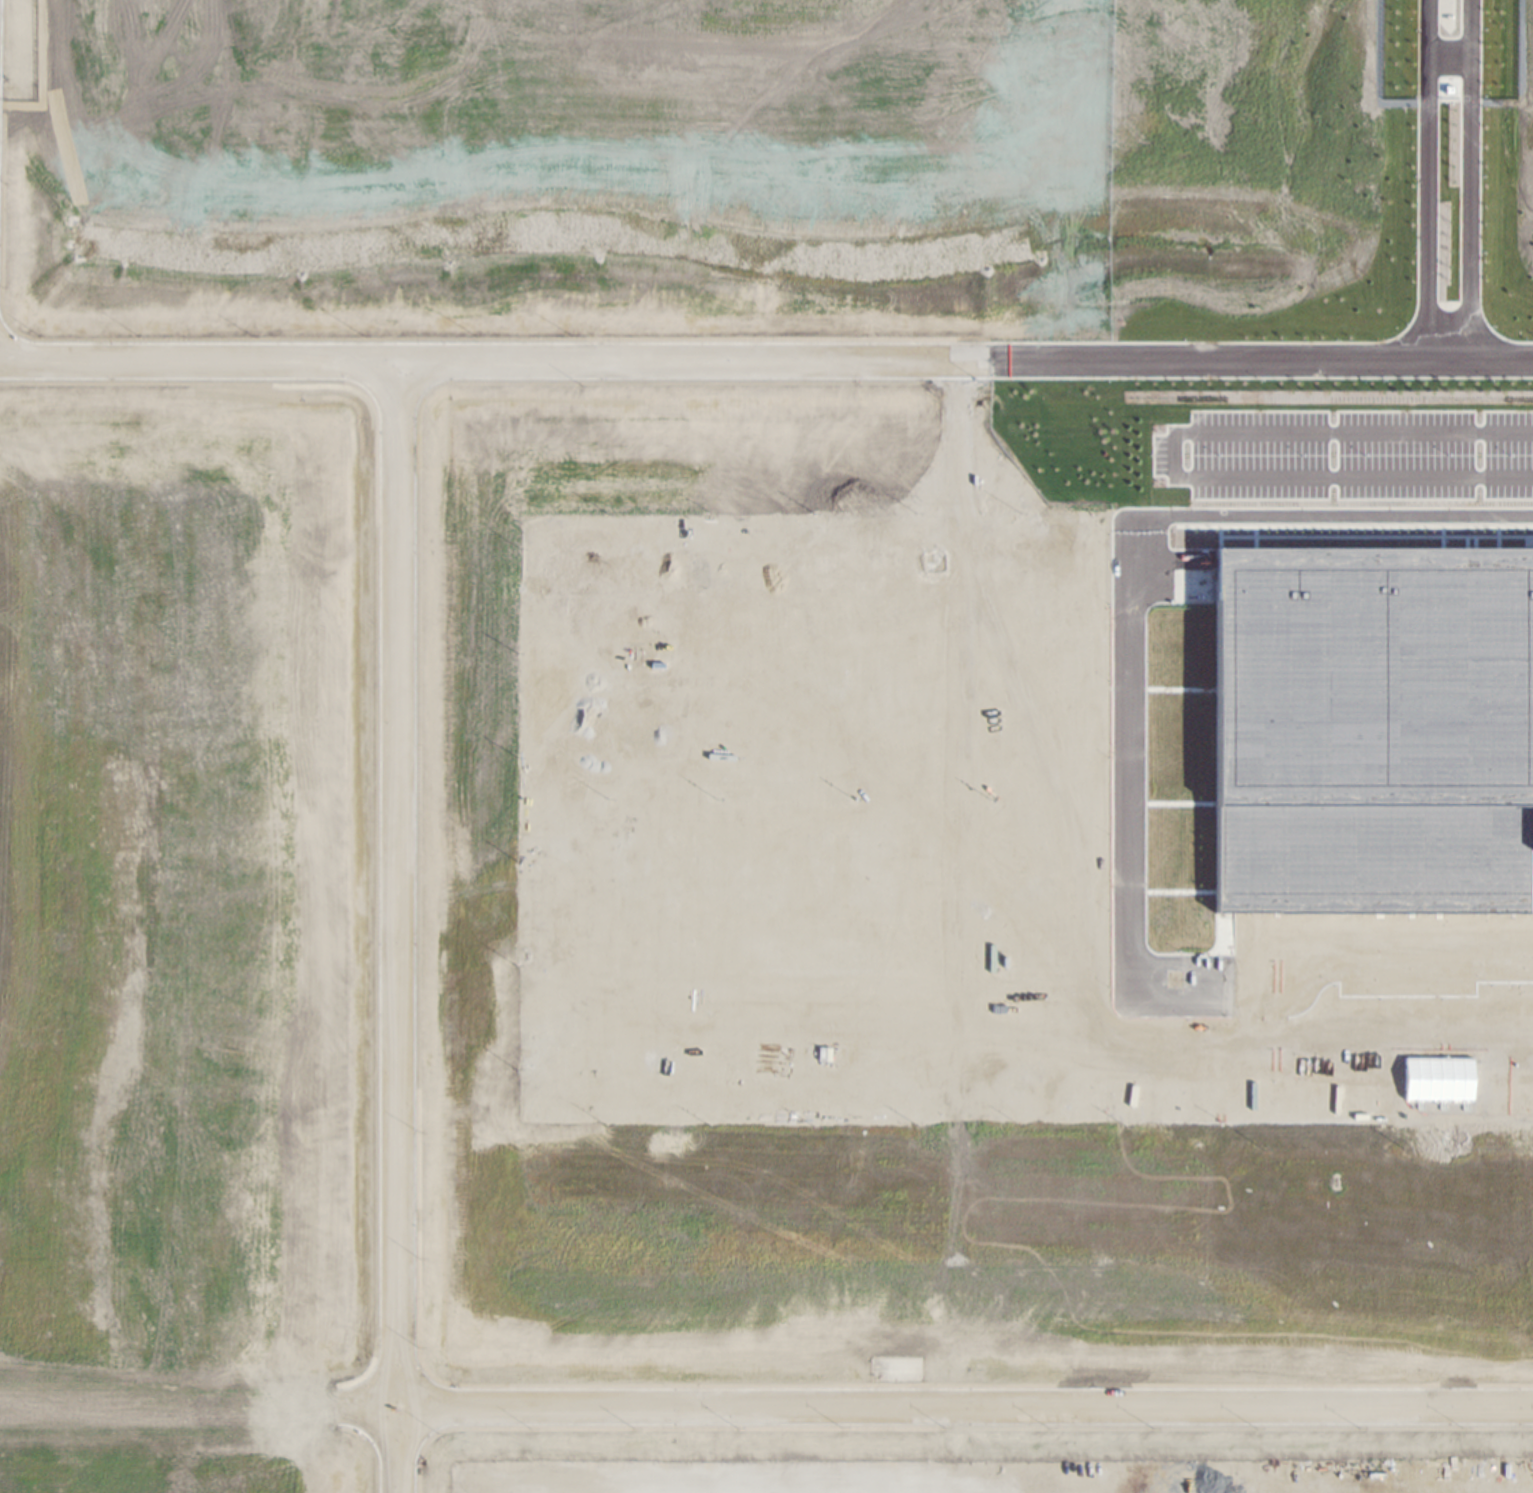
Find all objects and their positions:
road: (1449, 56)
road: (1428, 180)
road: (1470, 180)
road: (714, 360)
road: (1481, 361)
parking lot: (1349, 454)
road: (1175, 455)
building: (1373, 731)
road: (1132, 763)
road: (399, 926)
building: (1440, 1078)
road: (935, 1407)

